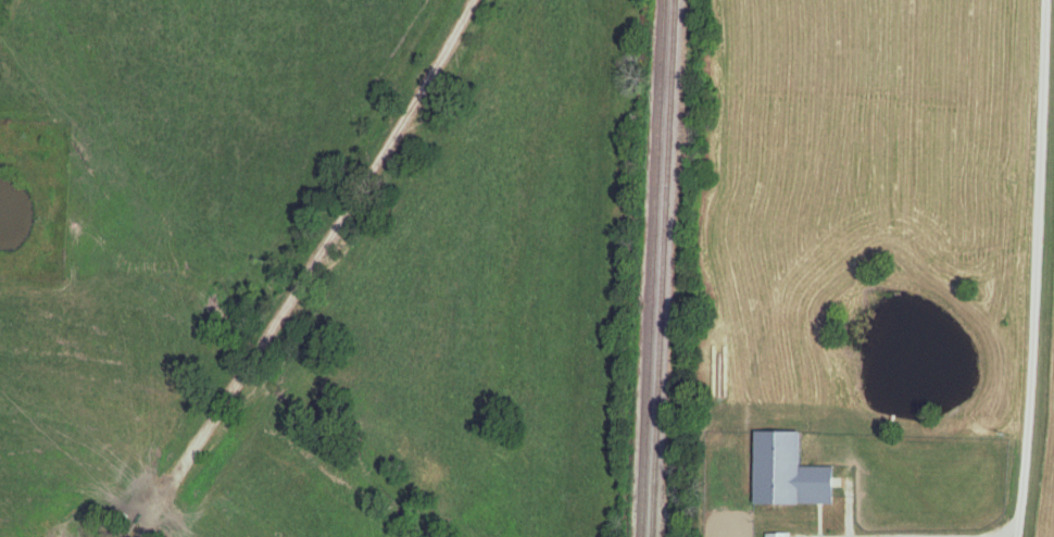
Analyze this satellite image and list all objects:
railway: (651, 268)
railway: (660, 268)
road: (1039, 268)
building: (779, 535)

